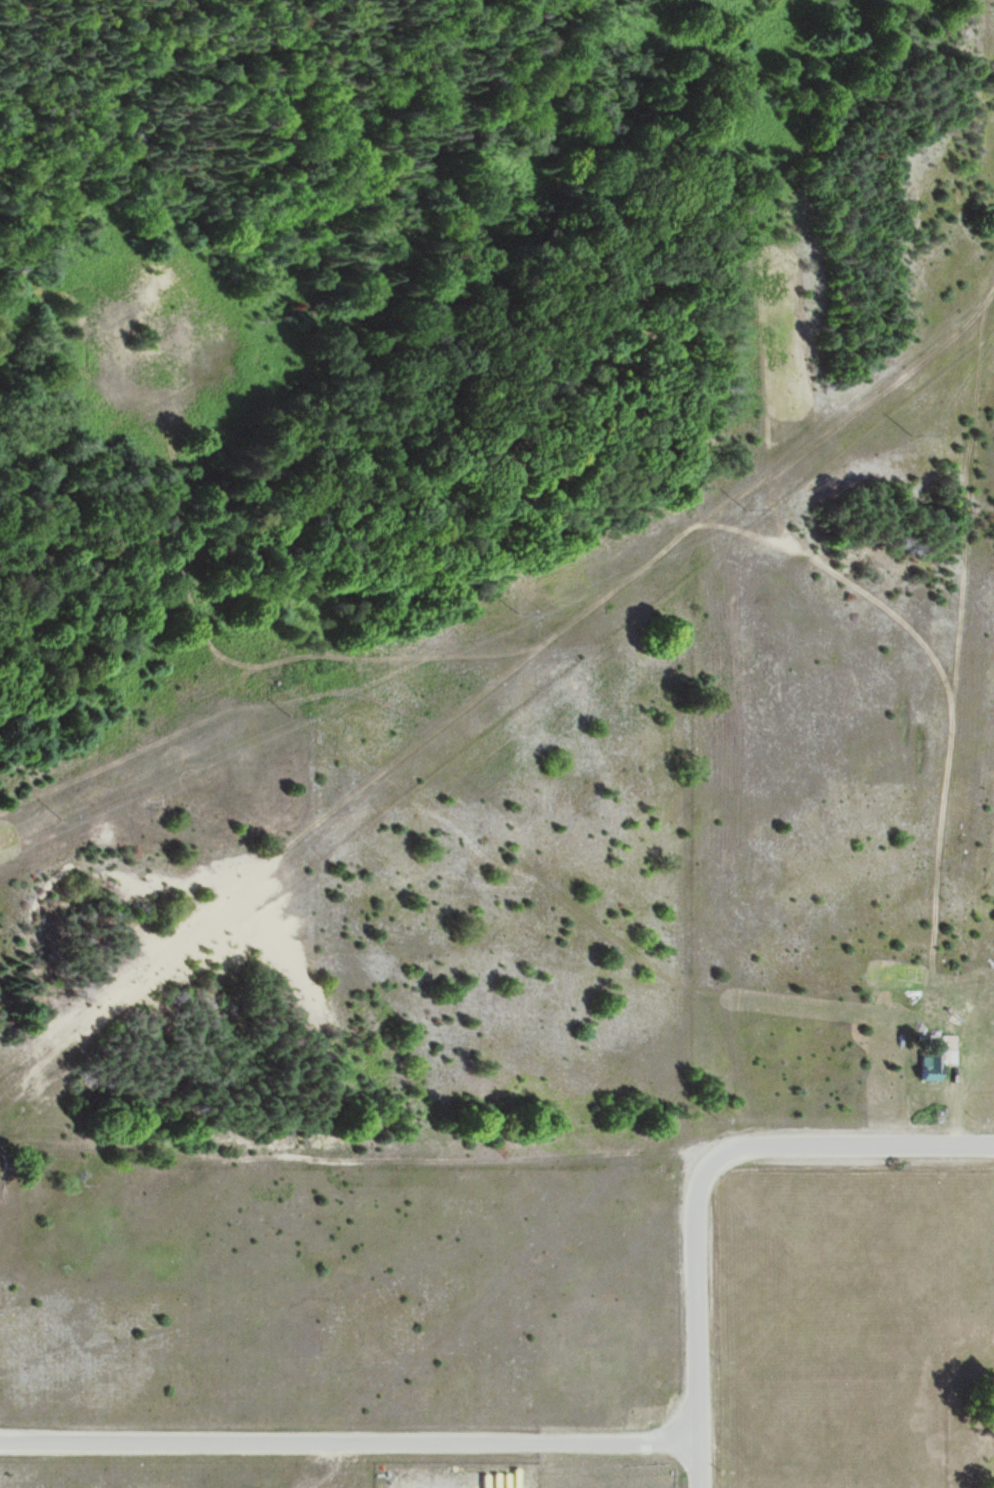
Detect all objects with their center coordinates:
building: (945, 1057)
building: (930, 1063)
road: (843, 1147)
road: (697, 1326)
road: (348, 1445)

